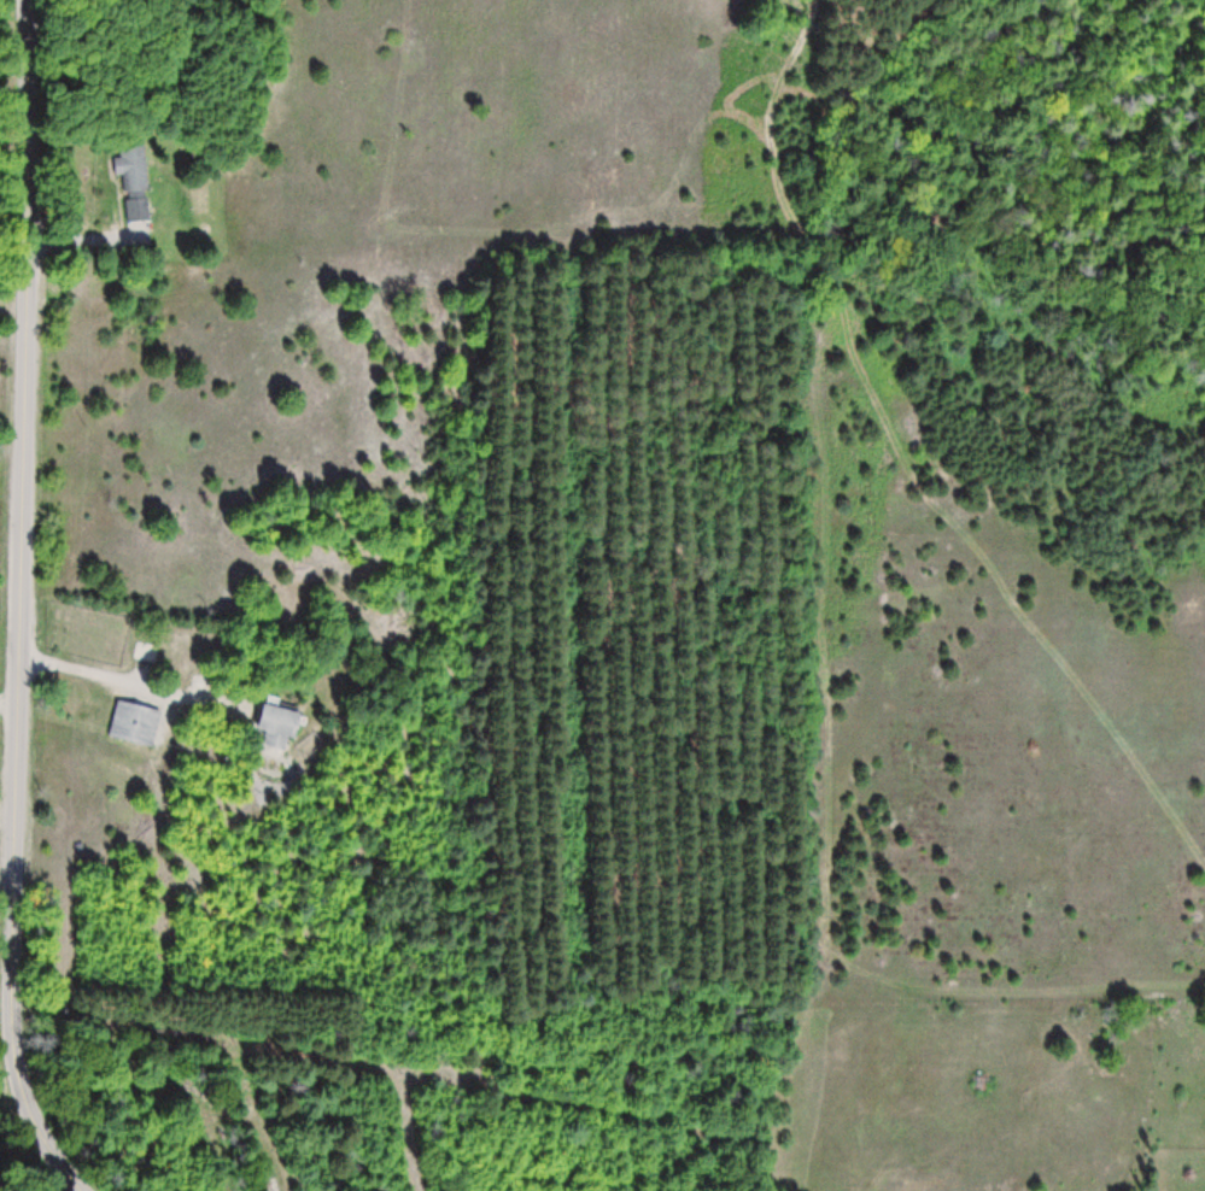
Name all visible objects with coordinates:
building: (134, 180)
road: (21, 605)
building: (135, 722)
building: (279, 723)

